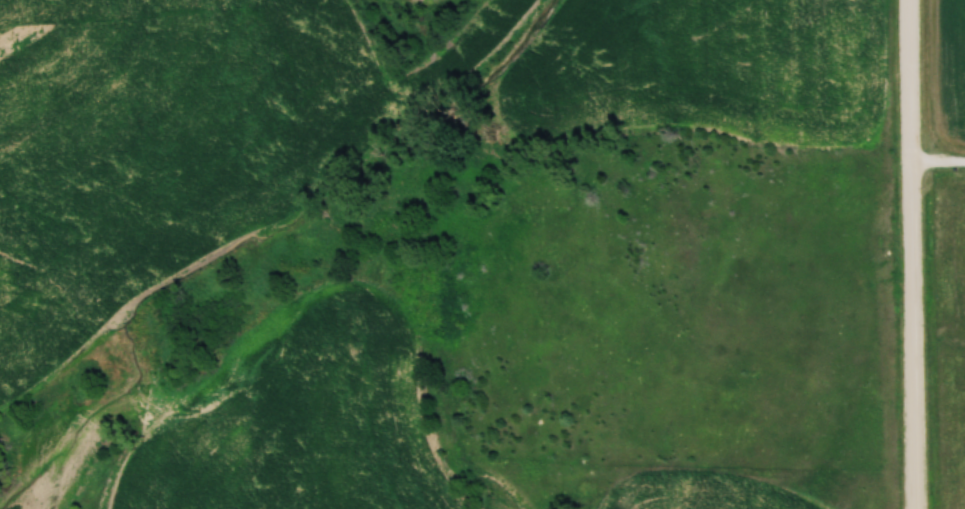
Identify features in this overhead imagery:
road: (939, 163)
road: (914, 254)

